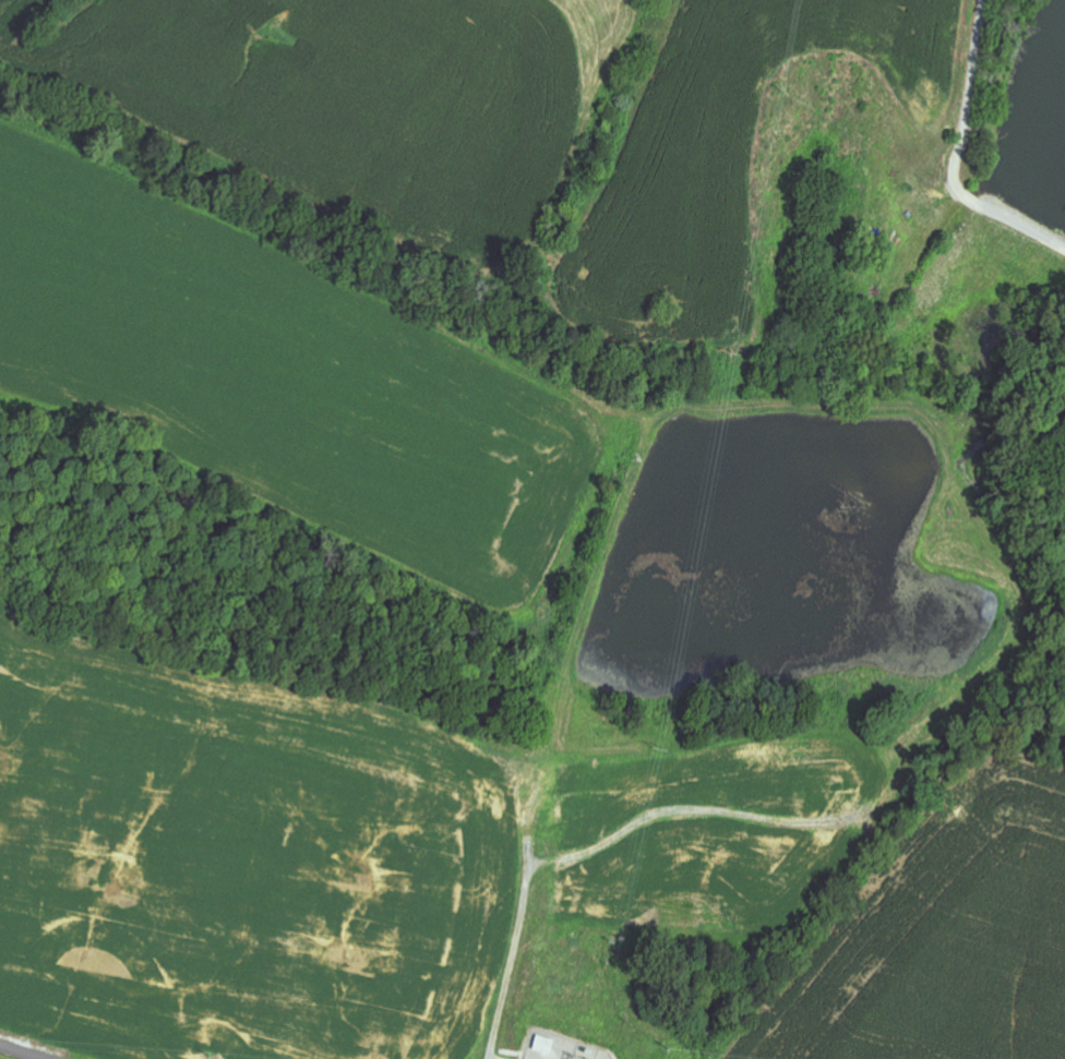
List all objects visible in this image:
building: (547, 1045)
power substation: (561, 1048)
road: (19, 1052)

